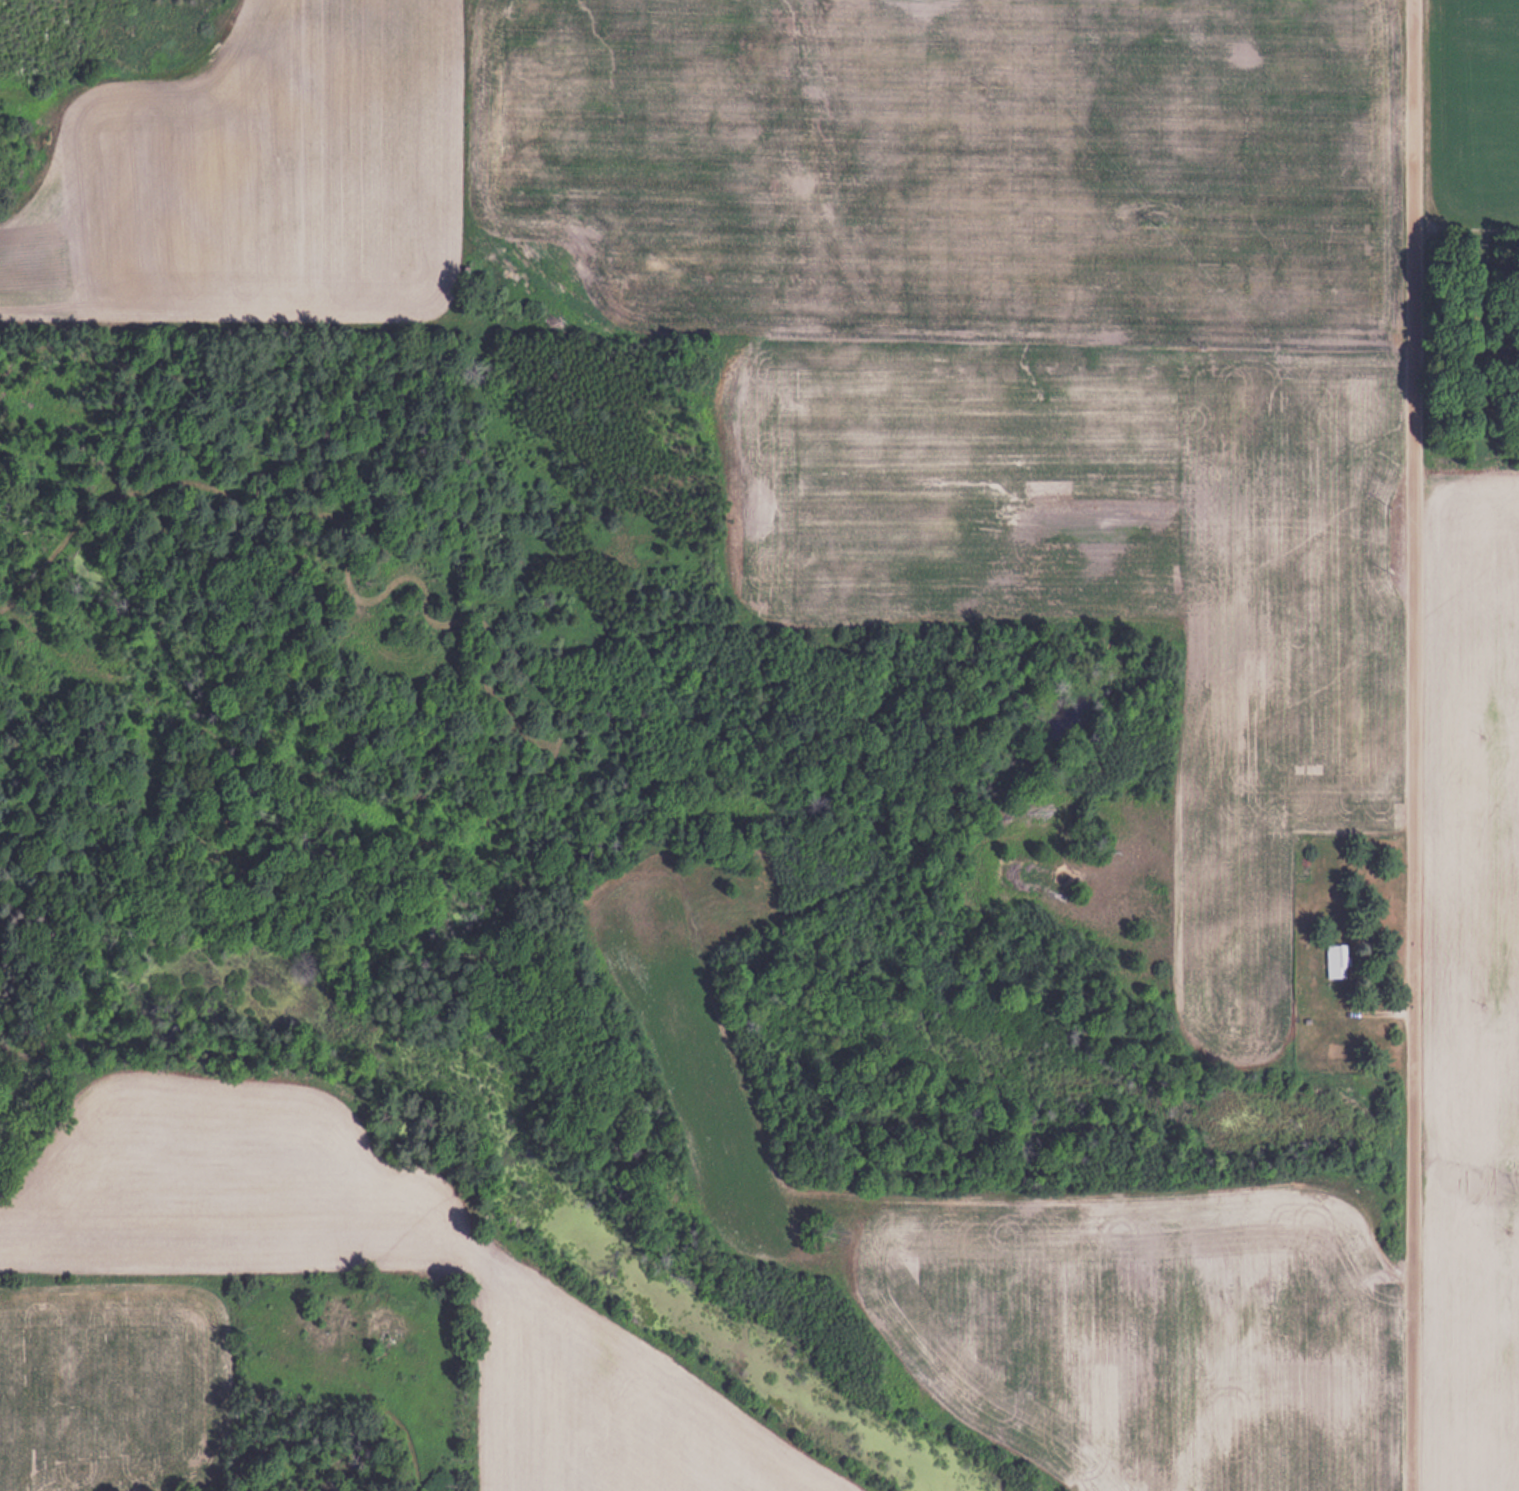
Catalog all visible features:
road: (1409, 745)
building: (1336, 961)

